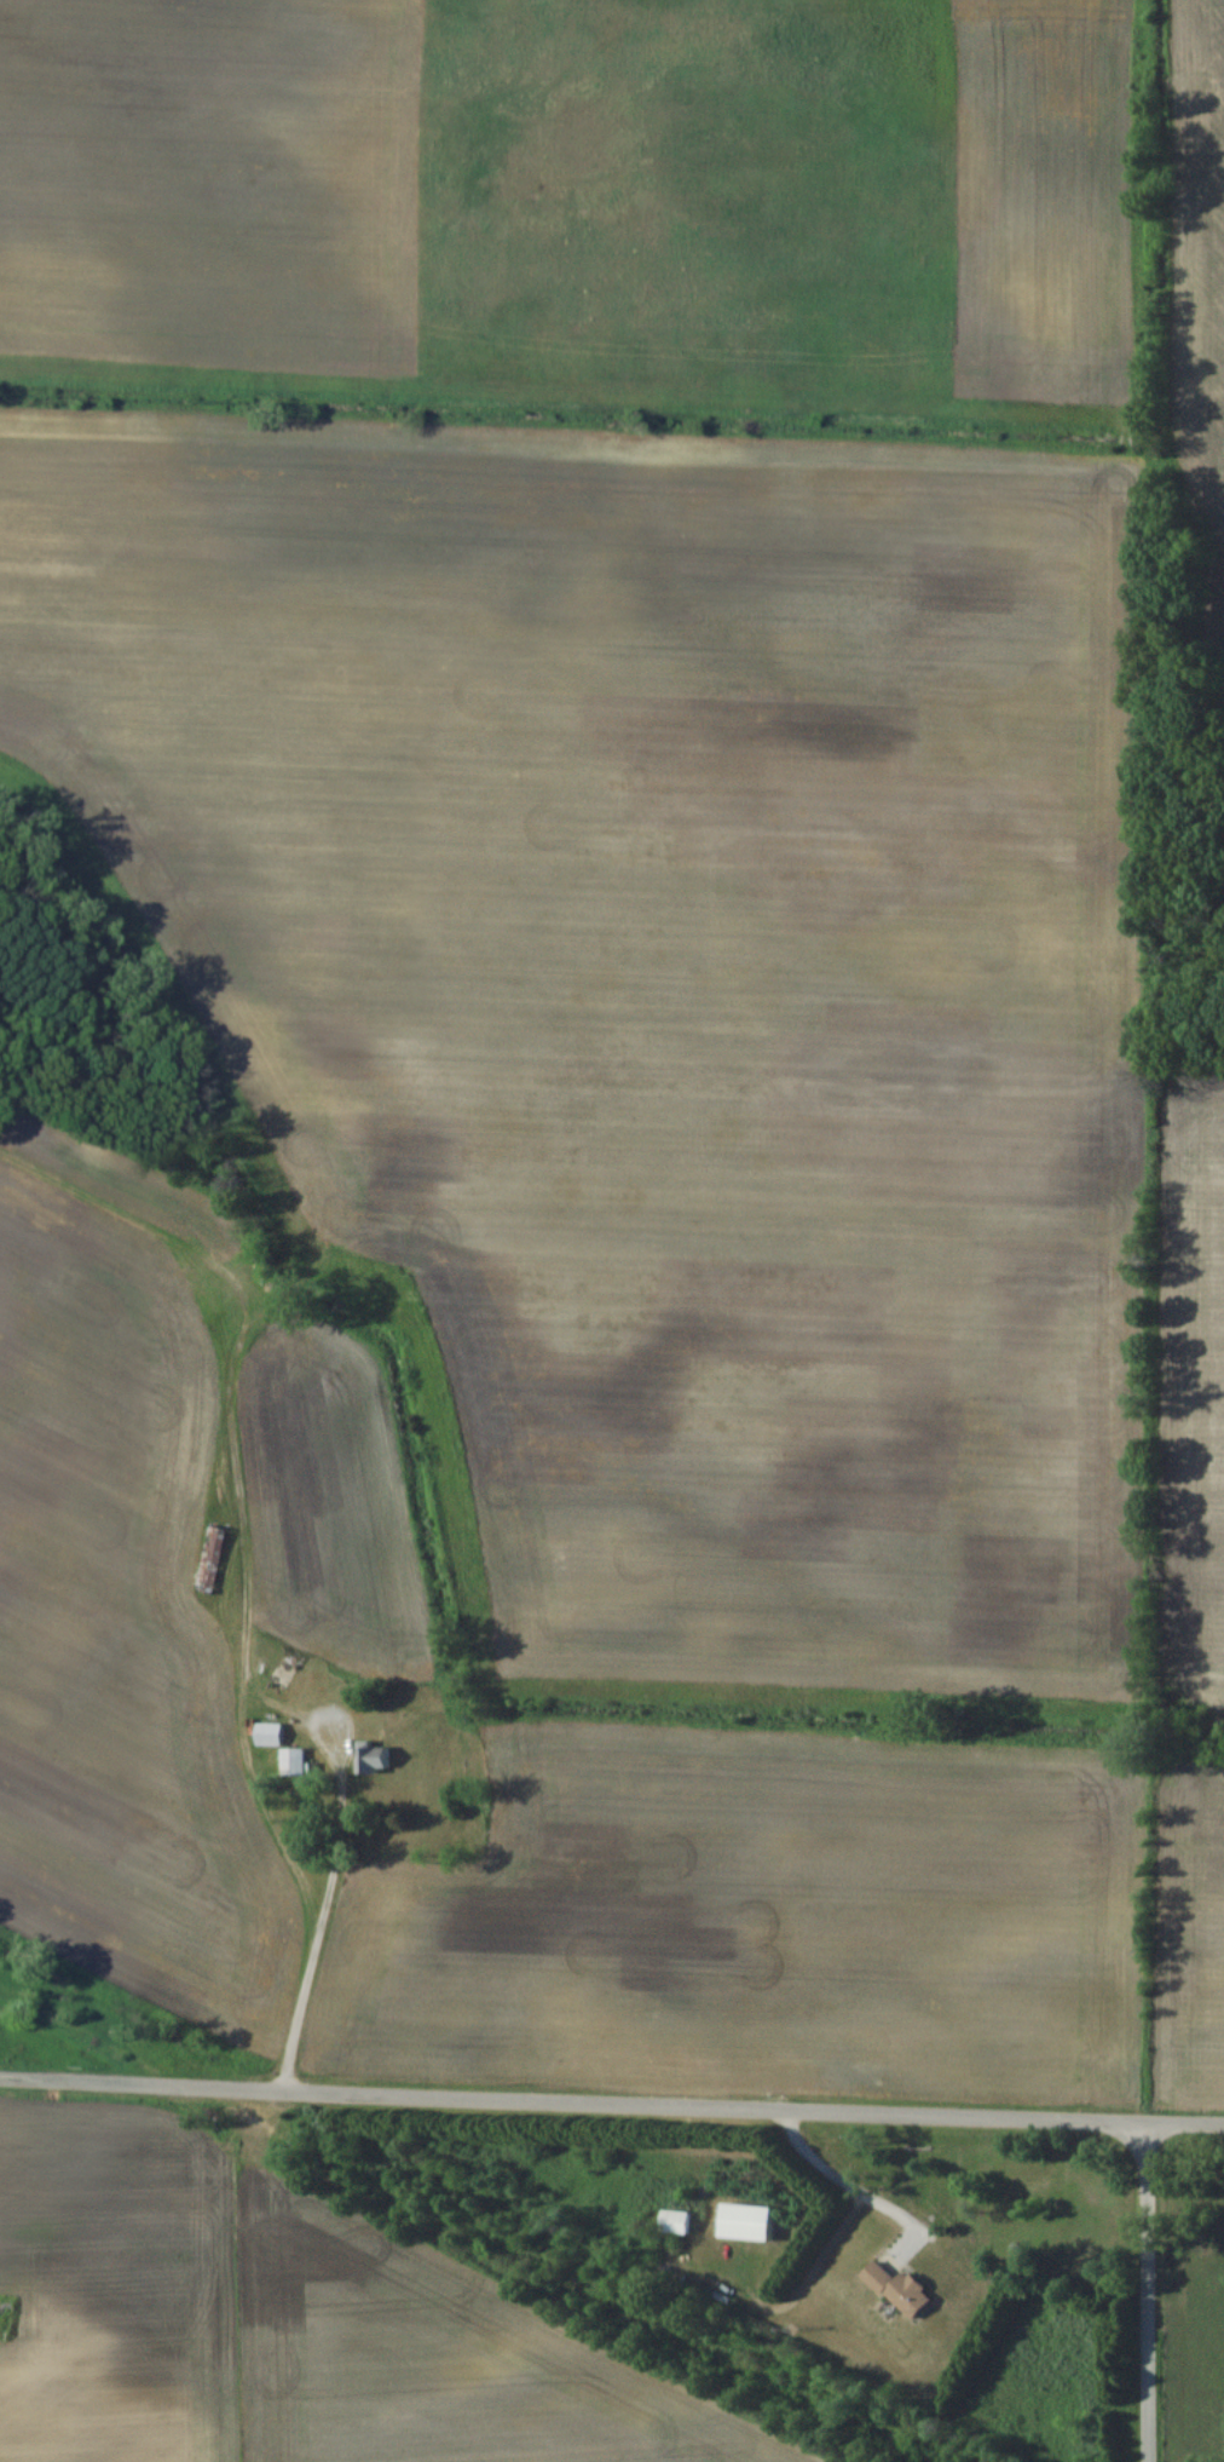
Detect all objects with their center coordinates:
building: (209, 1558)
building: (267, 1733)
building: (373, 1759)
building: (293, 1761)
road: (611, 2096)
building: (672, 2221)
building: (741, 2221)
building: (896, 2290)
road: (1153, 2290)
building: (15, 2324)

